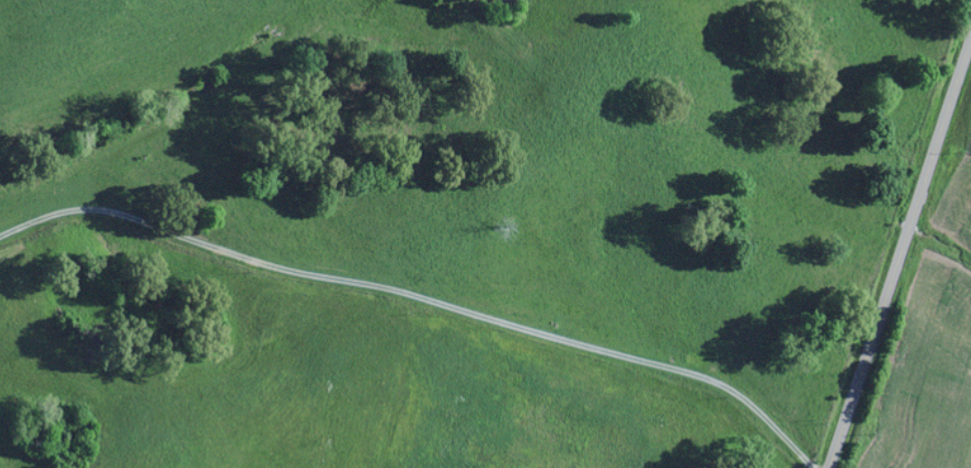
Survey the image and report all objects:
road: (901, 254)

